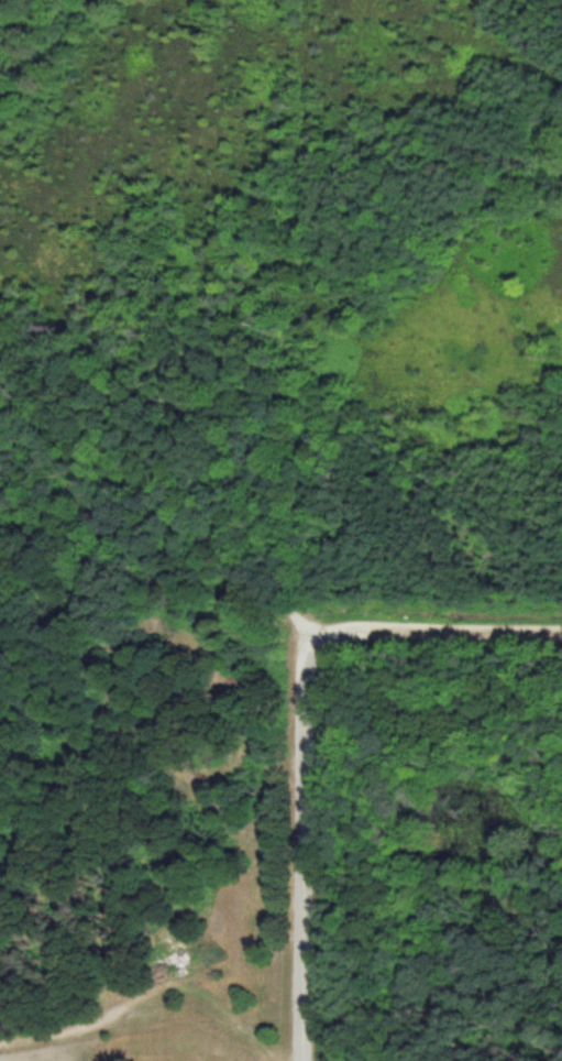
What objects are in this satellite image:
road: (154, 493)
road: (434, 615)
road: (294, 840)

